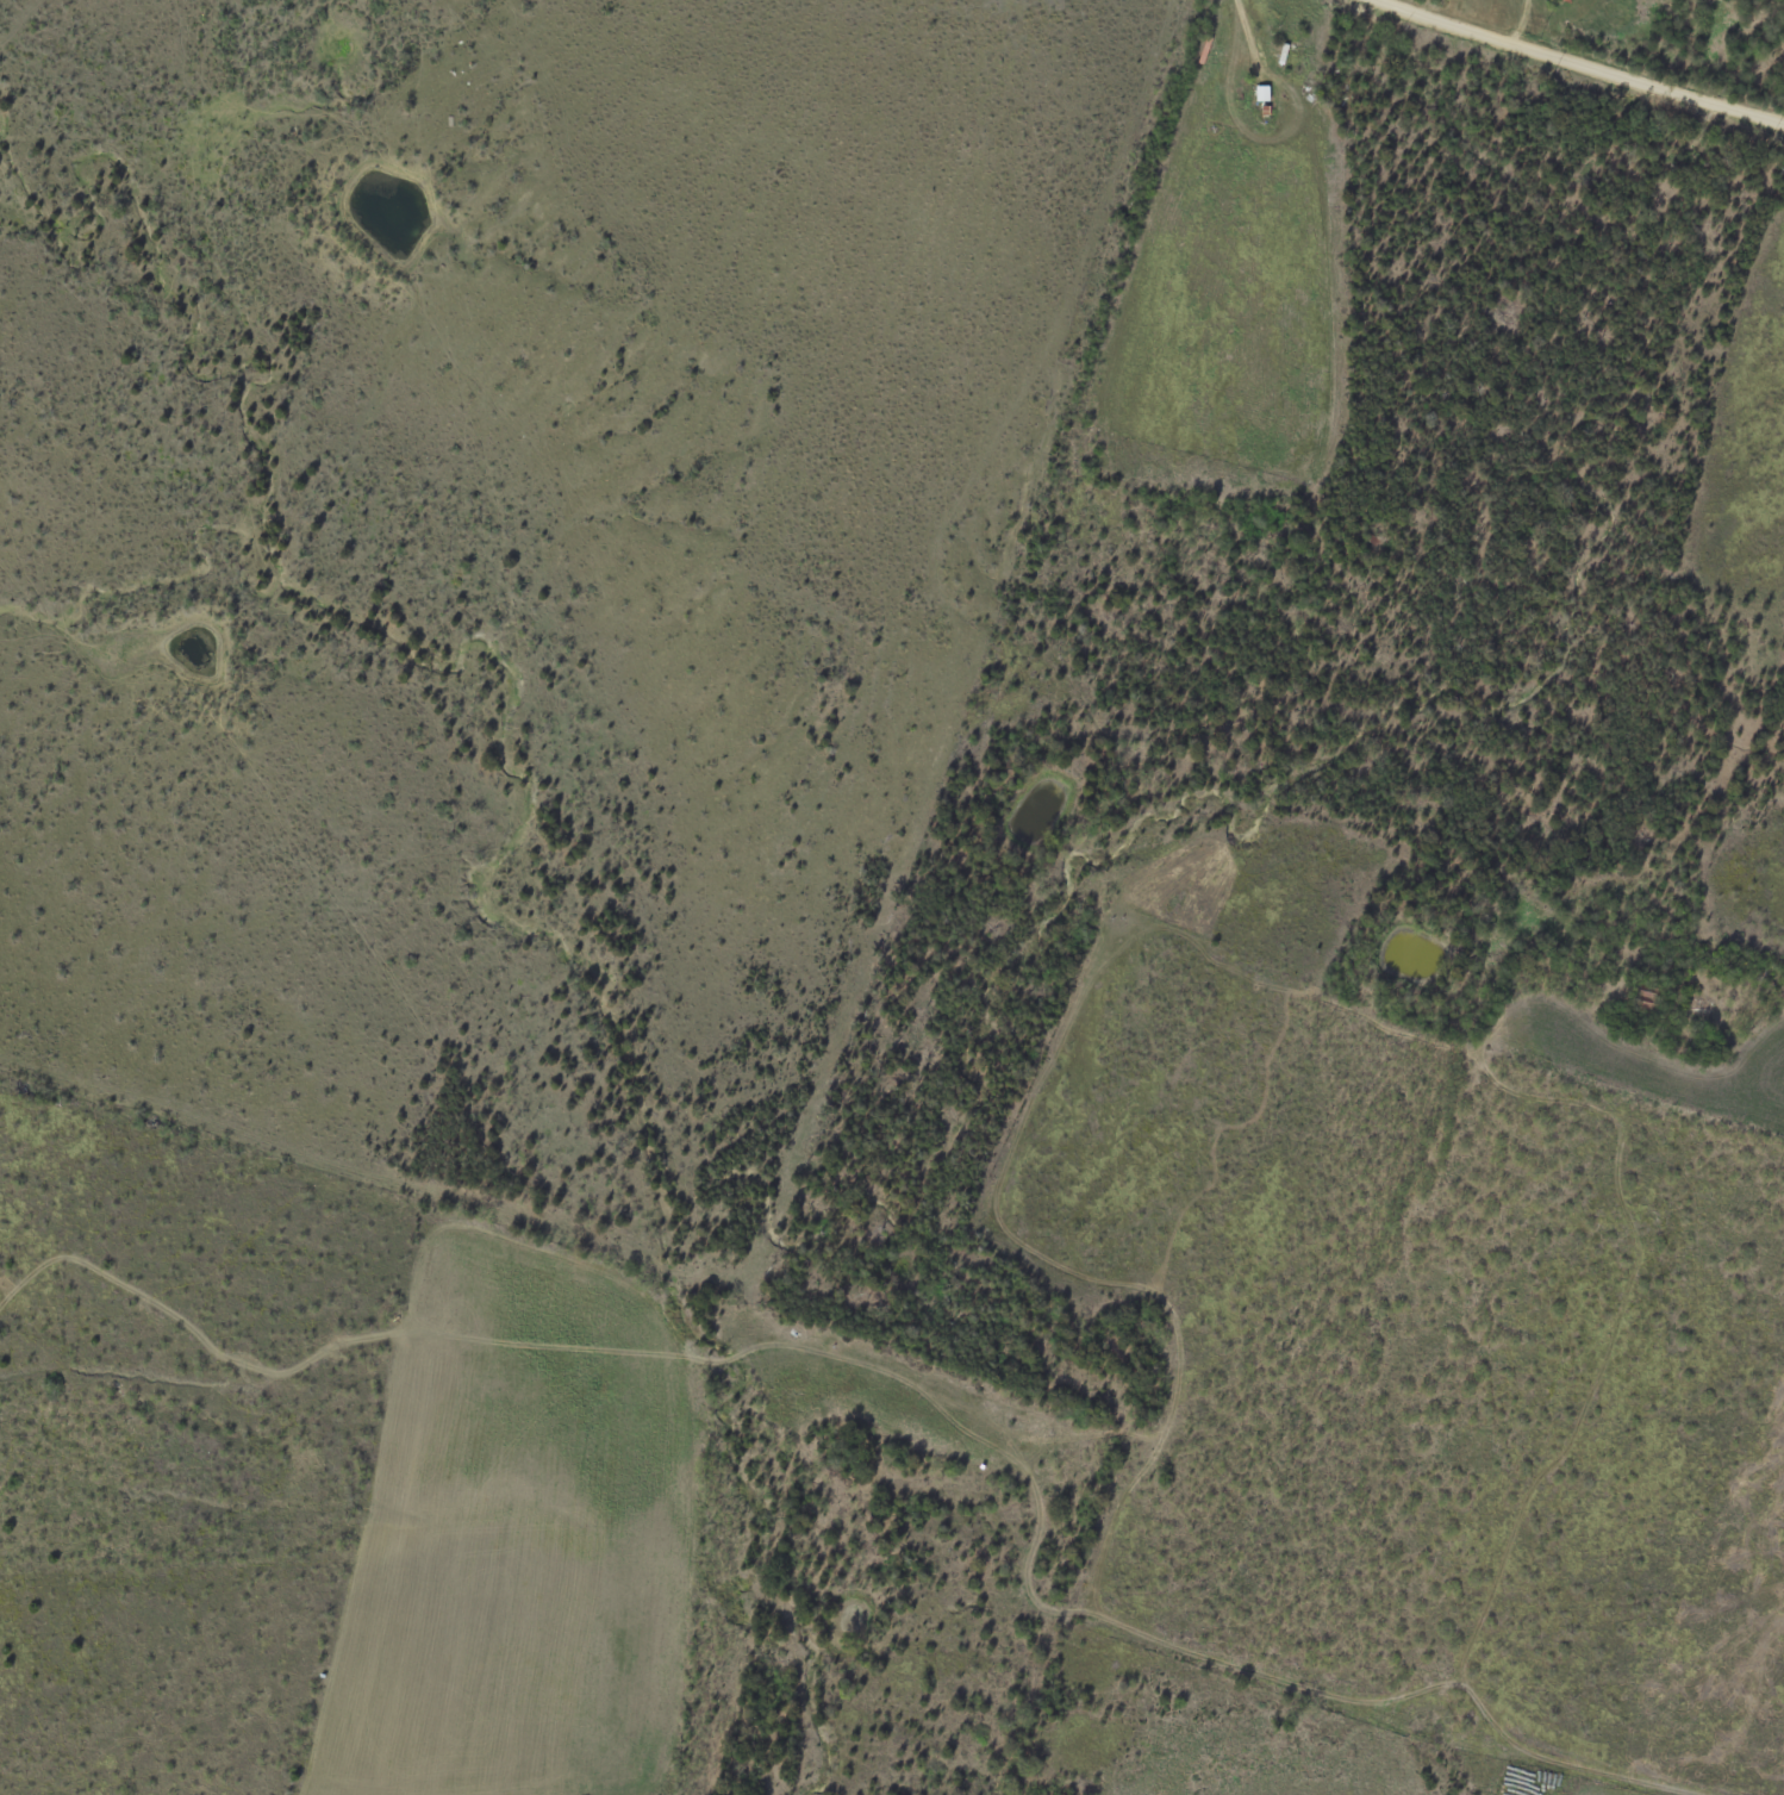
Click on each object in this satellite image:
road: (1582, 62)

